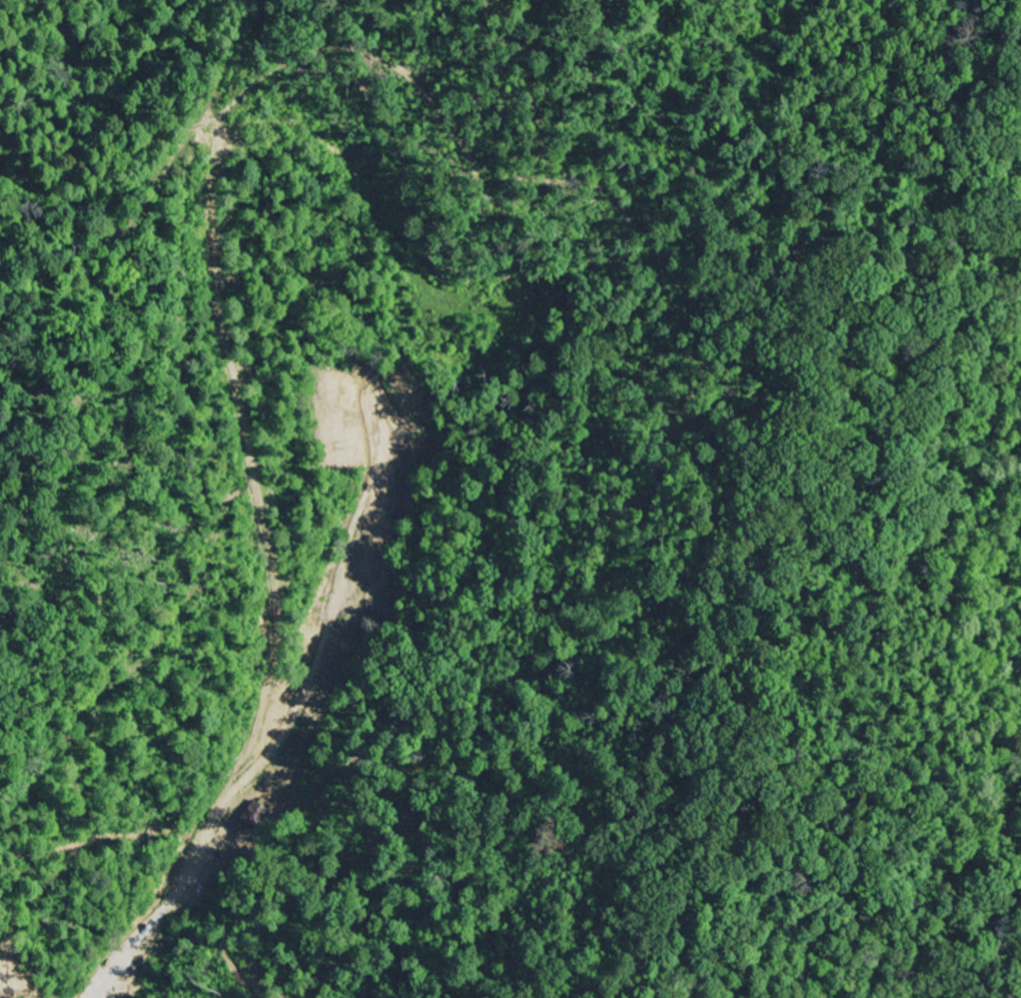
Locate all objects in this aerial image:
road: (996, 955)

